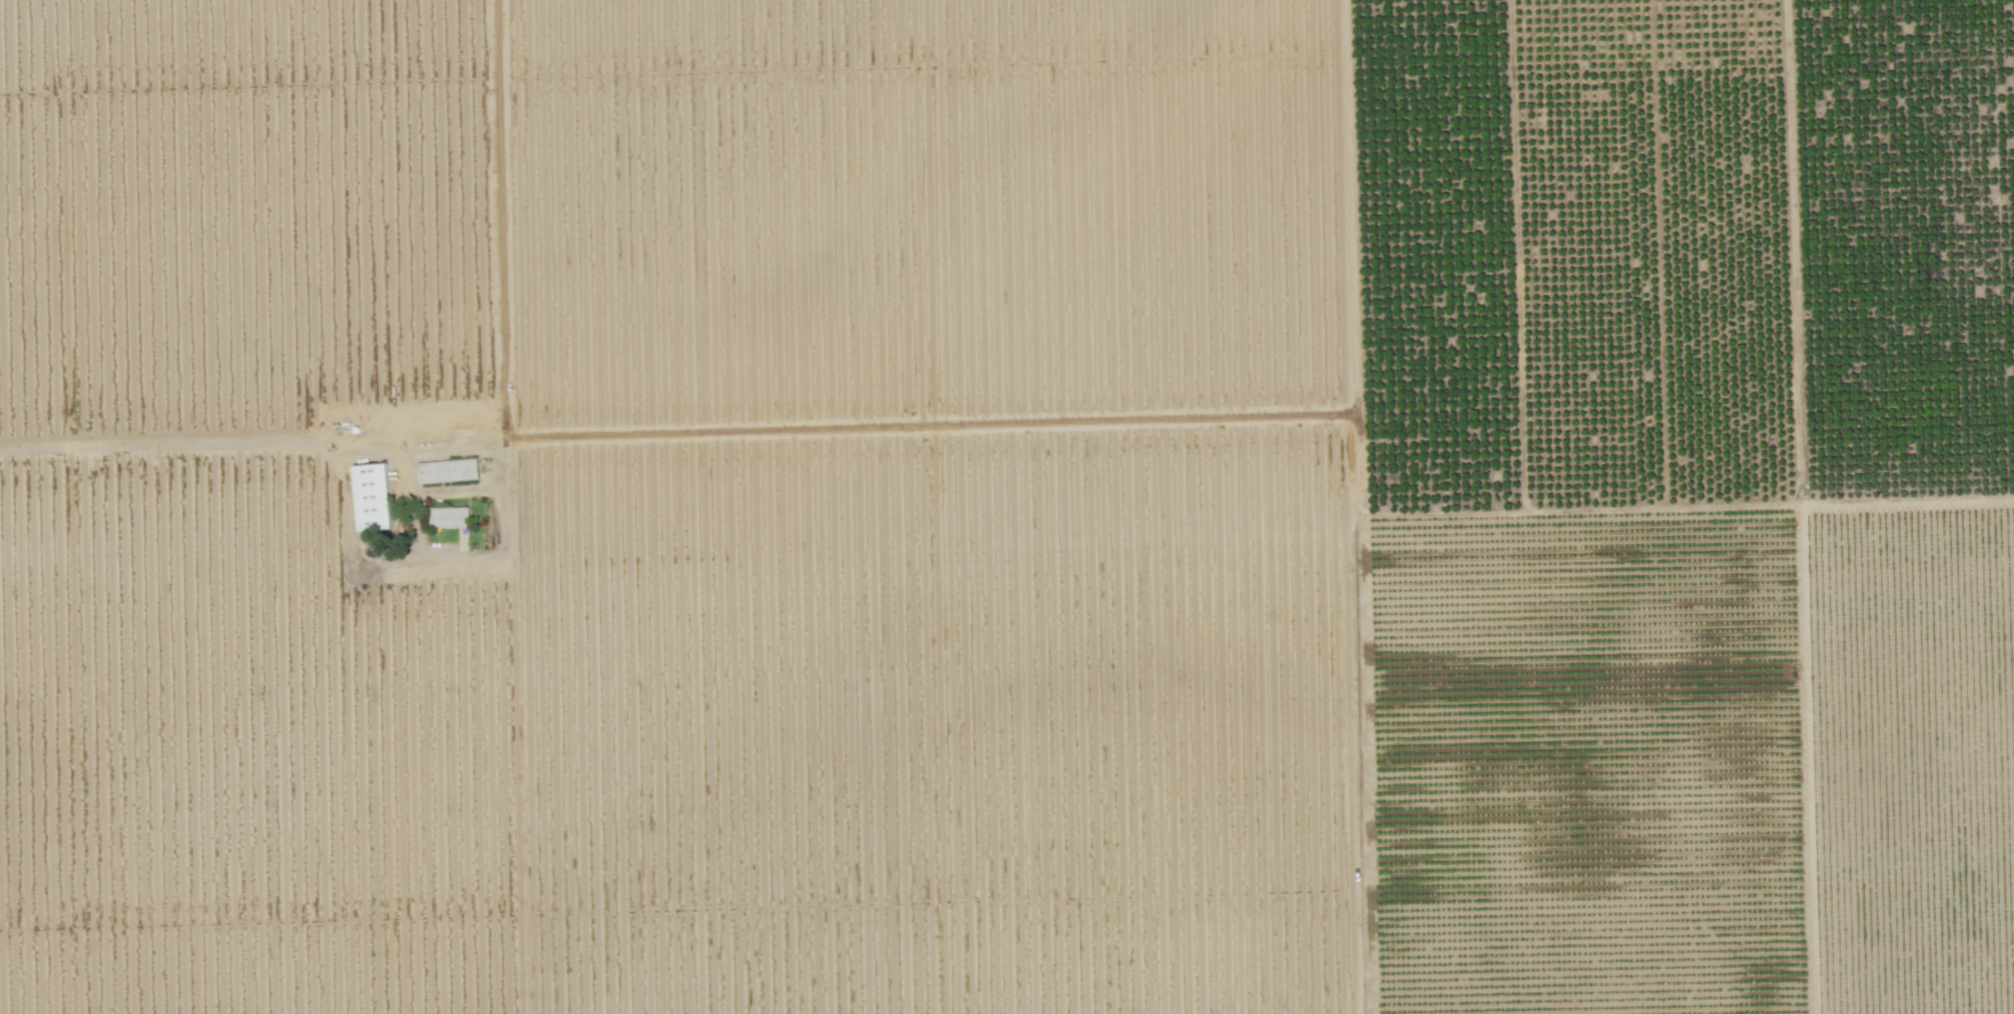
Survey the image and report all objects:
road: (474, 447)
building: (447, 470)
building: (371, 496)
building: (448, 516)
road: (415, 546)
road: (513, 729)

